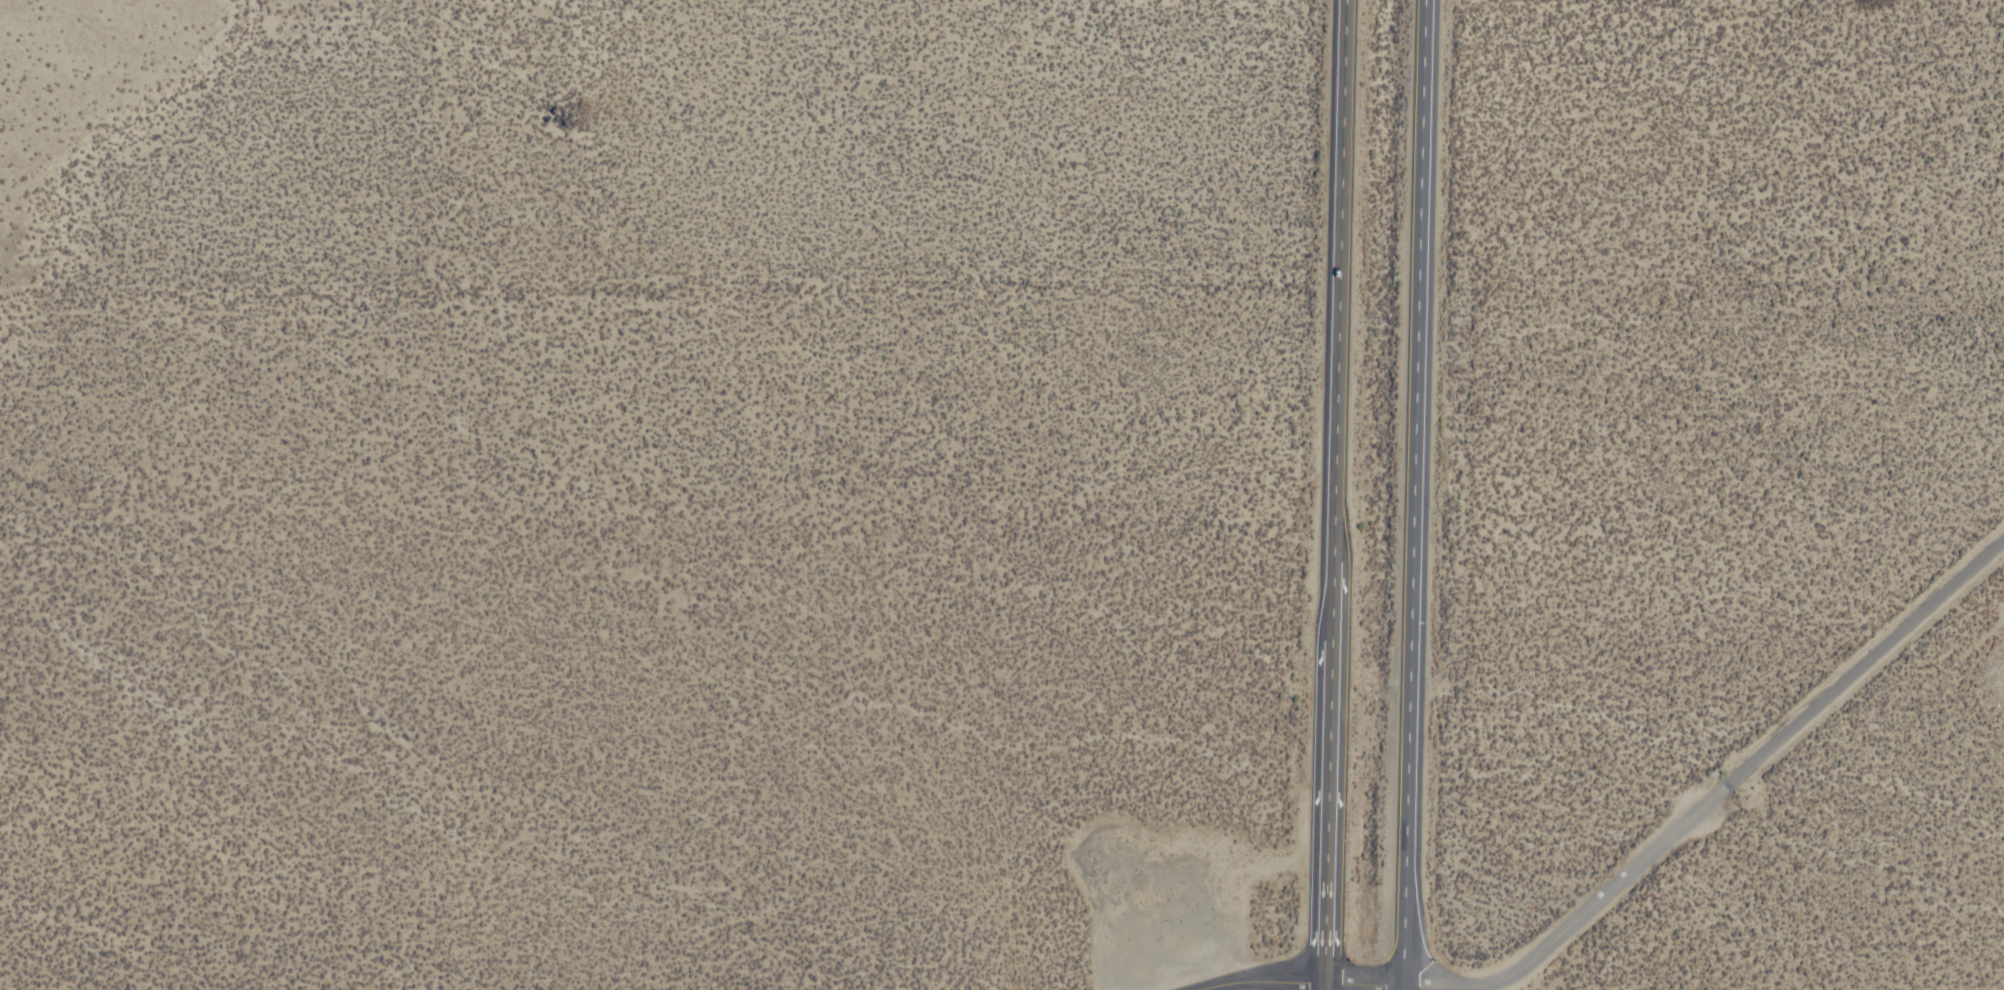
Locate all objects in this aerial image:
road: (1337, 285)
road: (1415, 493)
road: (1330, 608)
road: (1718, 796)
road: (1327, 815)
road: (1263, 979)
road: (1364, 985)
road: (1324, 987)
road: (1403, 988)

